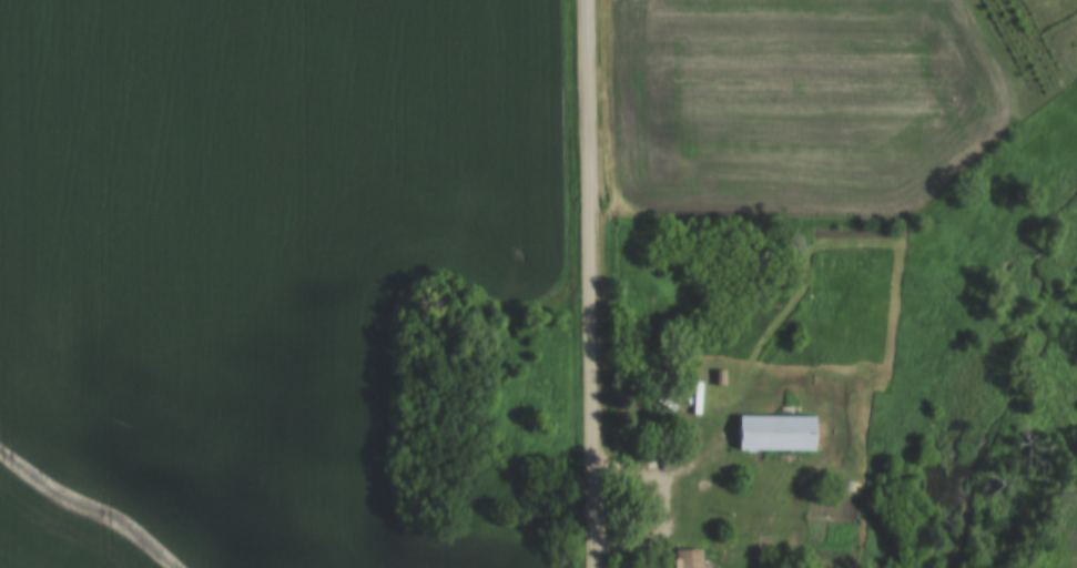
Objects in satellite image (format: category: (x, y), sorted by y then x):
road: (590, 283)
building: (772, 433)
road: (670, 471)
building: (684, 559)

